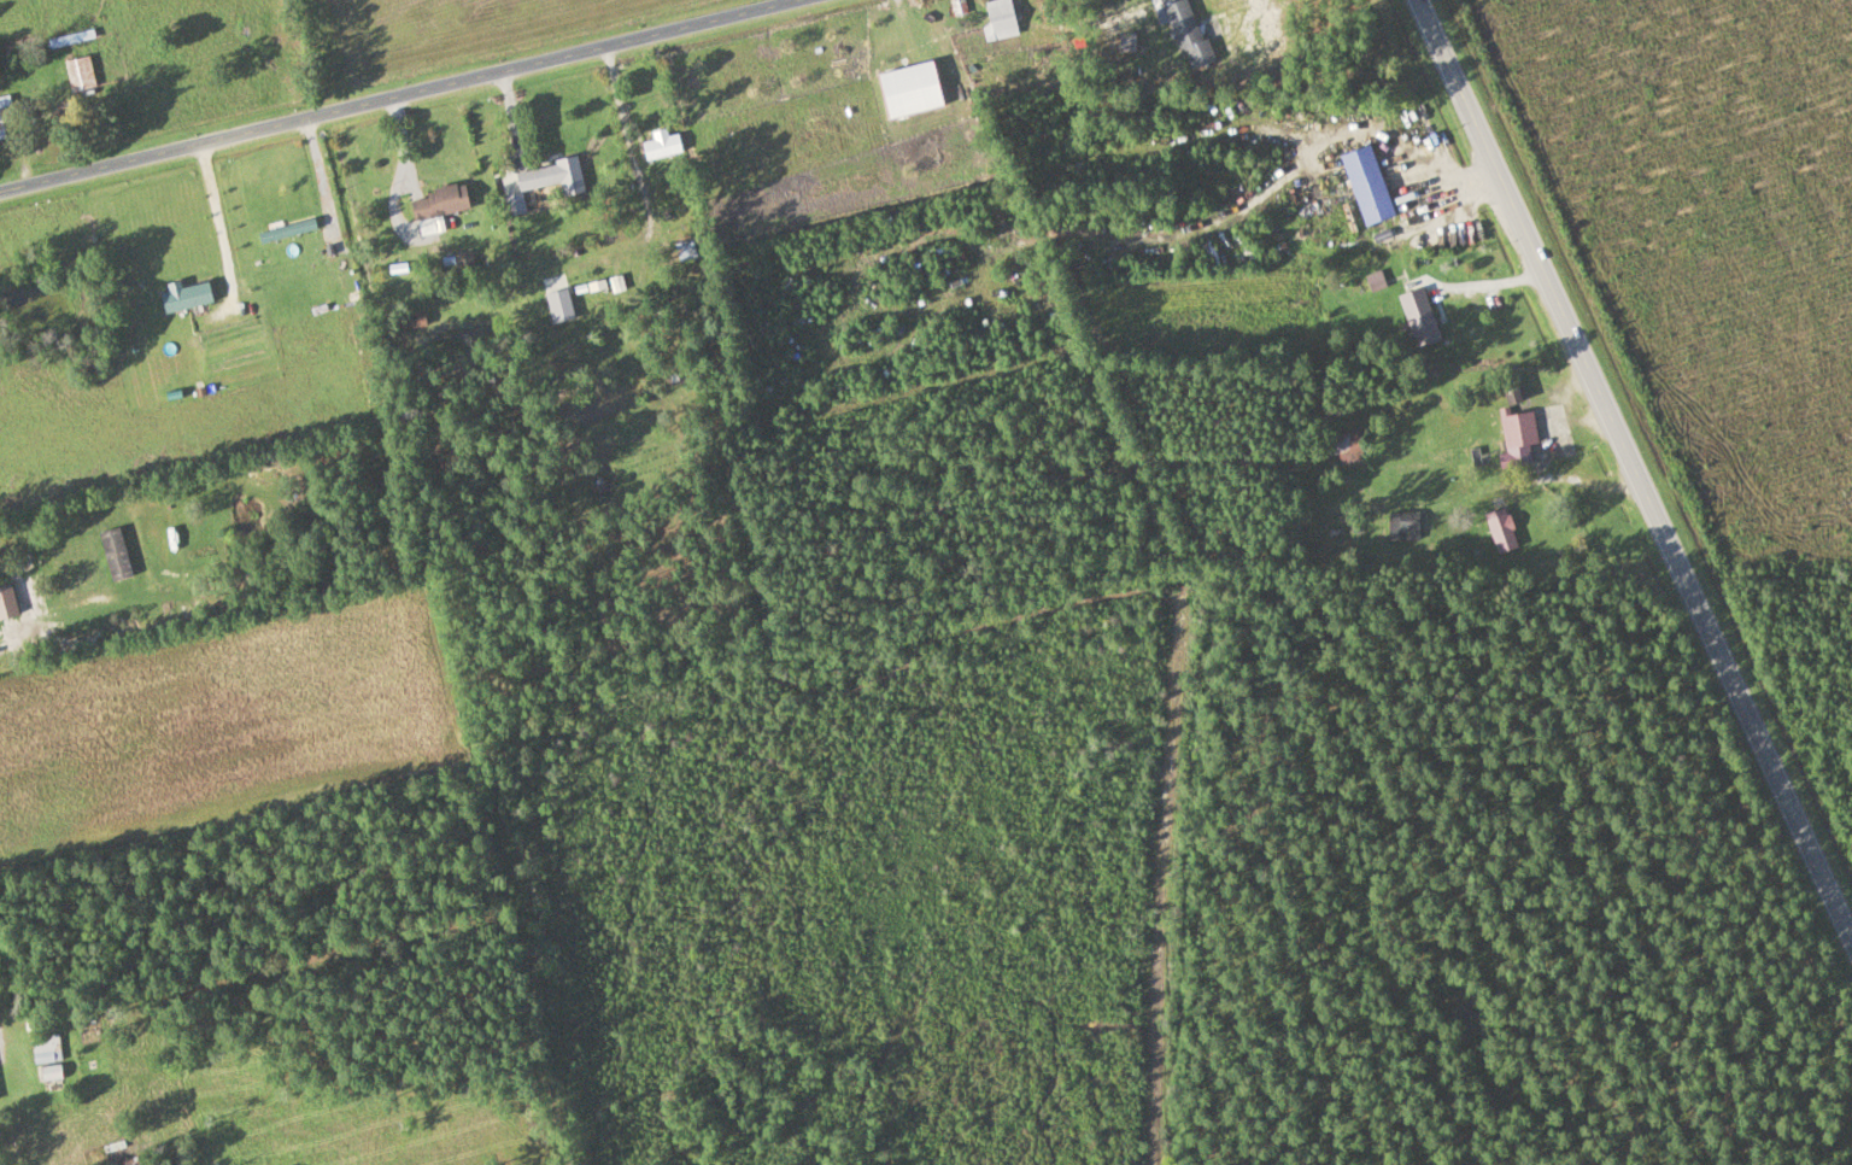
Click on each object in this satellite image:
building: (1000, 16)
building: (1185, 33)
building: (71, 37)
building: (80, 74)
road: (400, 96)
building: (6, 118)
building: (660, 145)
building: (547, 176)
building: (1366, 185)
building: (438, 203)
building: (511, 205)
building: (286, 230)
building: (184, 297)
building: (1418, 317)
building: (1511, 391)
building: (1518, 427)
road: (1133, 438)
building: (1340, 443)
road: (1637, 466)
building: (1403, 525)
building: (1501, 528)
building: (115, 554)
road: (1165, 884)

